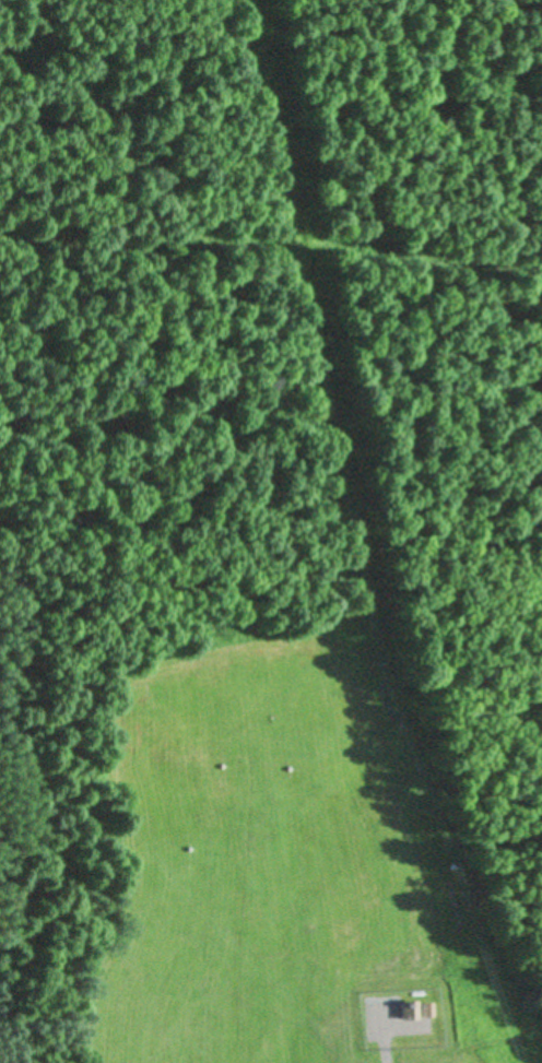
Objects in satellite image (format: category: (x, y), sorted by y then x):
building: (411, 1012)

